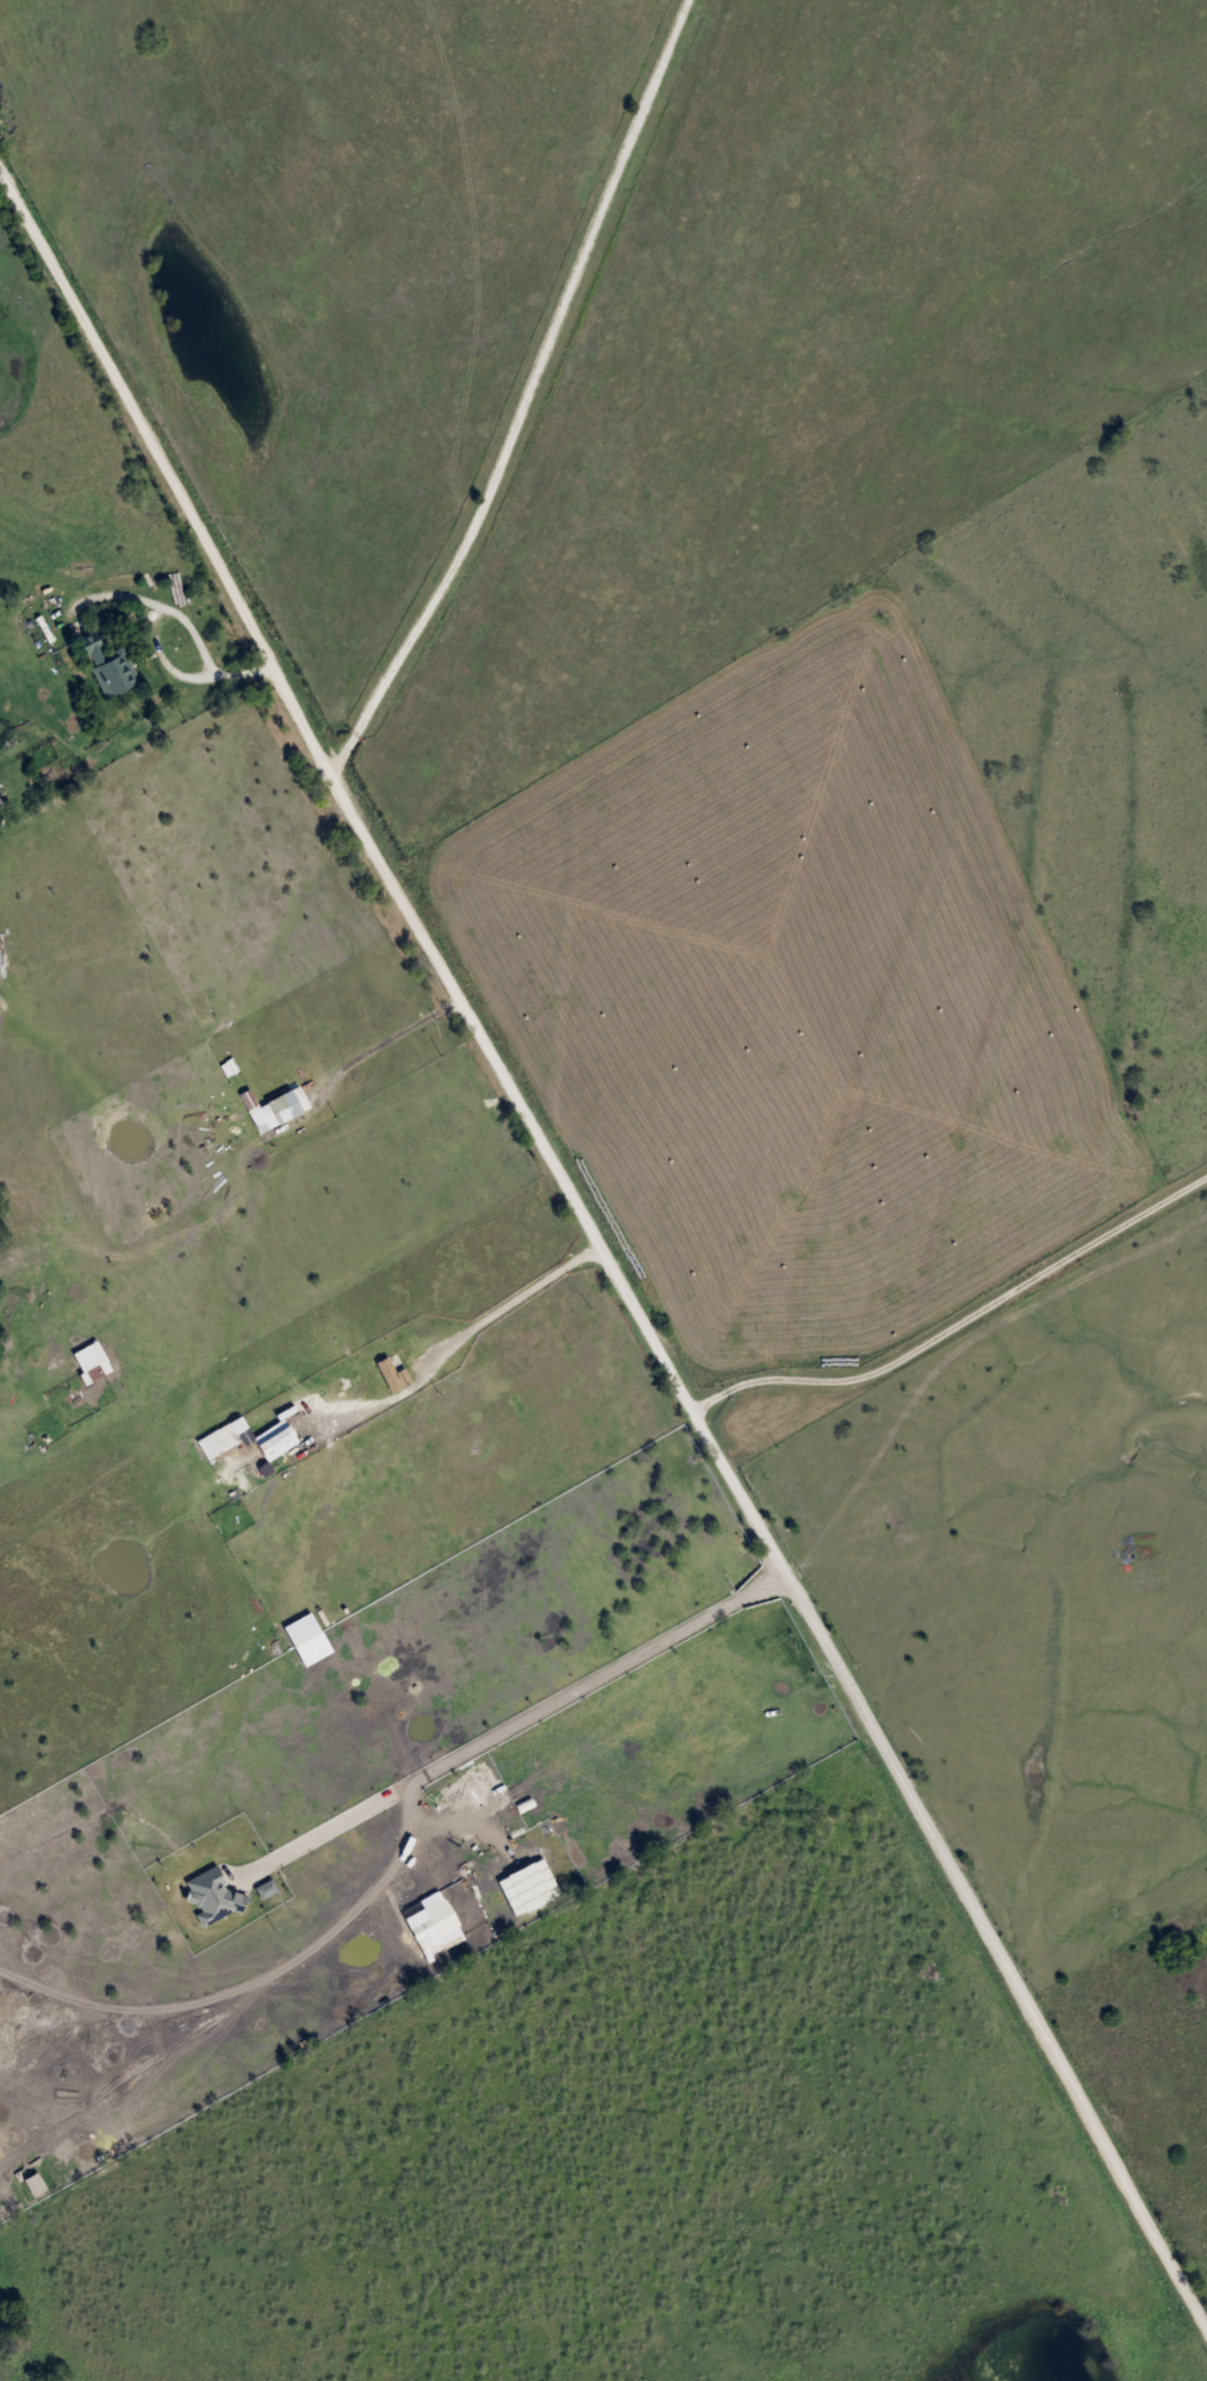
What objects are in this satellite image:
road: (518, 394)
building: (107, 665)
building: (2, 794)
road: (360, 834)
road: (514, 1304)
road: (957, 1326)
road: (524, 1720)
road: (970, 1907)

